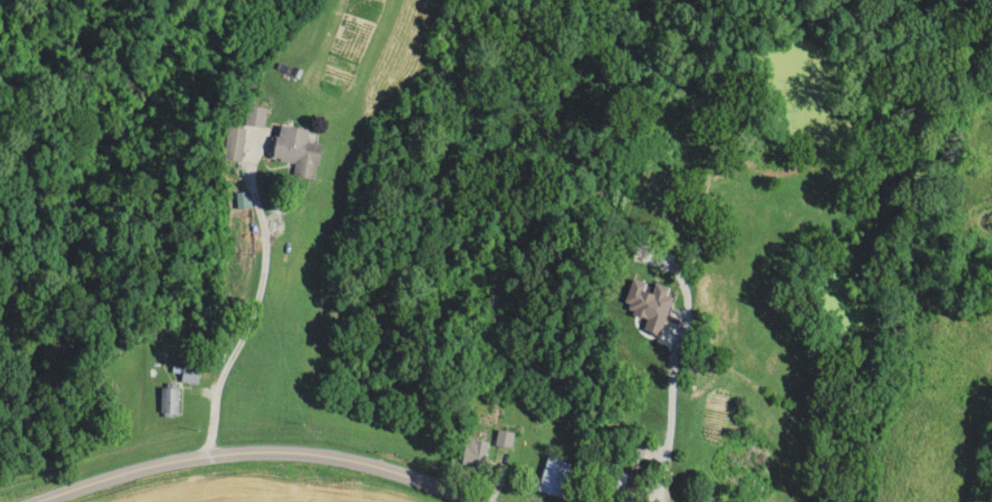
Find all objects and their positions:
building: (258, 117)
building: (237, 144)
building: (301, 151)
road: (253, 303)
building: (193, 374)
building: (172, 399)
road: (666, 402)
building: (507, 439)
road: (248, 442)
building: (478, 453)
building: (557, 476)
building: (617, 487)

